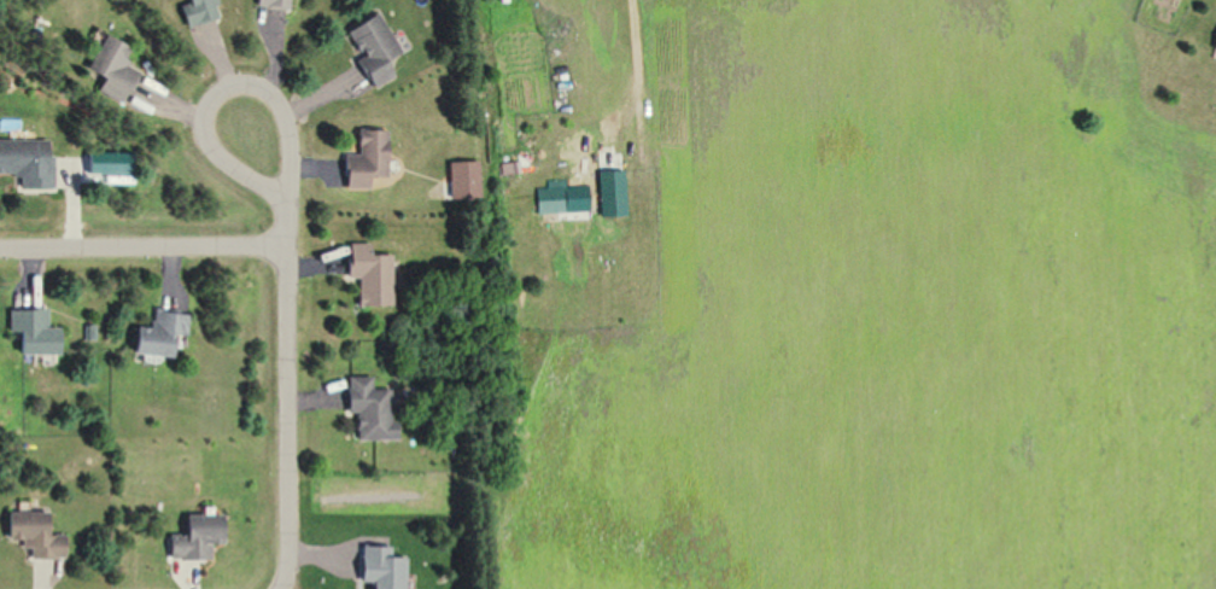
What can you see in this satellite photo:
building: (502, 0)
building: (273, 4)
building: (198, 11)
building: (1214, 45)
building: (370, 47)
road: (637, 70)
building: (111, 71)
road: (226, 91)
building: (363, 161)
building: (25, 162)
building: (508, 168)
building: (609, 193)
building: (550, 197)
road: (144, 246)
building: (368, 275)
crop: (891, 317)
building: (31, 333)
building: (158, 336)
road: (288, 393)
building: (369, 408)
building: (198, 538)
building: (35, 540)

